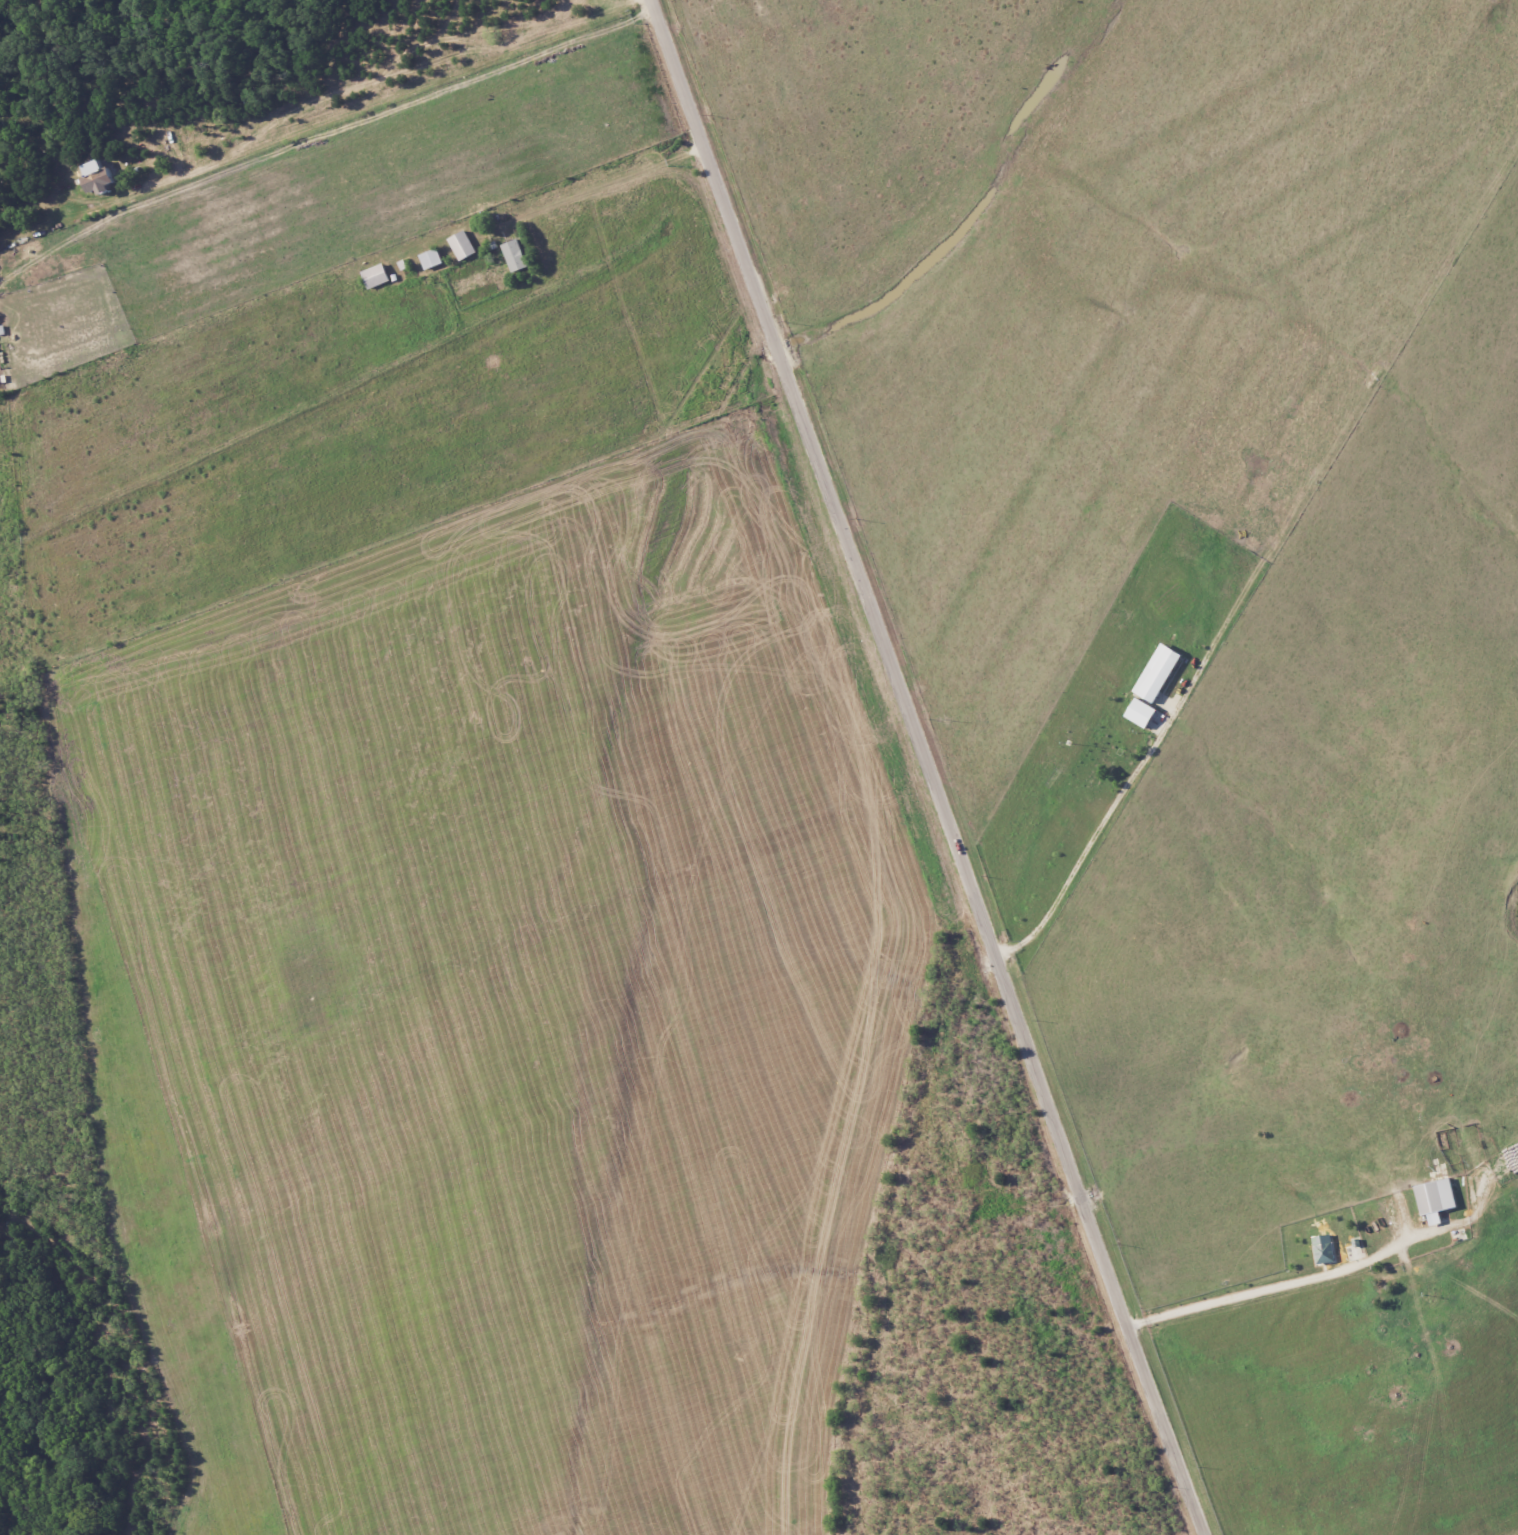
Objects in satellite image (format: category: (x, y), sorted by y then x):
building: (100, 176)
road: (611, 192)
building: (463, 244)
building: (515, 255)
building: (431, 258)
building: (376, 275)
building: (1157, 672)
building: (1142, 712)
road: (930, 766)
road: (1091, 840)
building: (1436, 1199)
building: (1324, 1248)
road: (1240, 1295)

